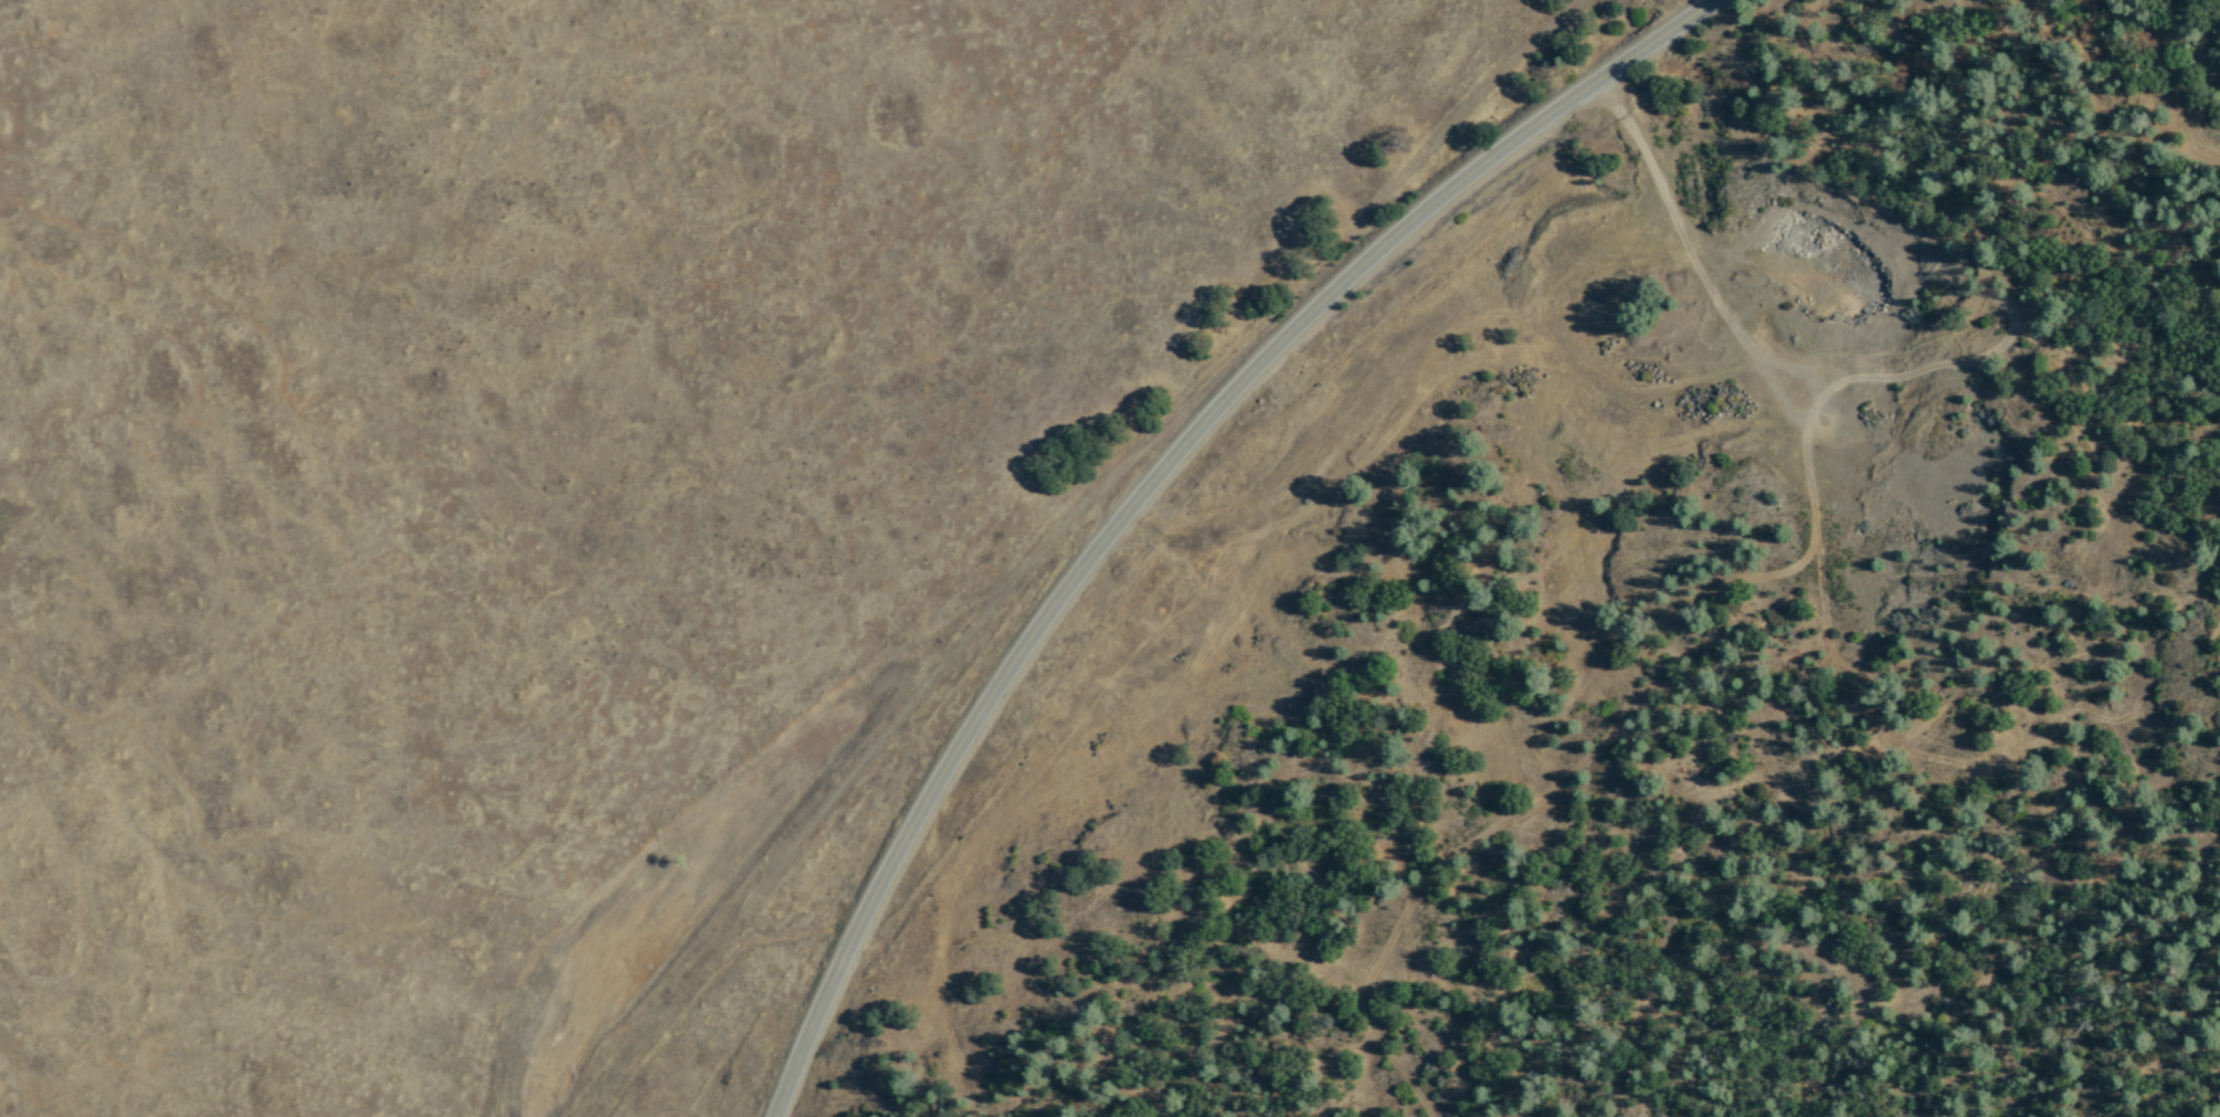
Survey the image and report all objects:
quarry: (1724, 401)
road: (1146, 480)

